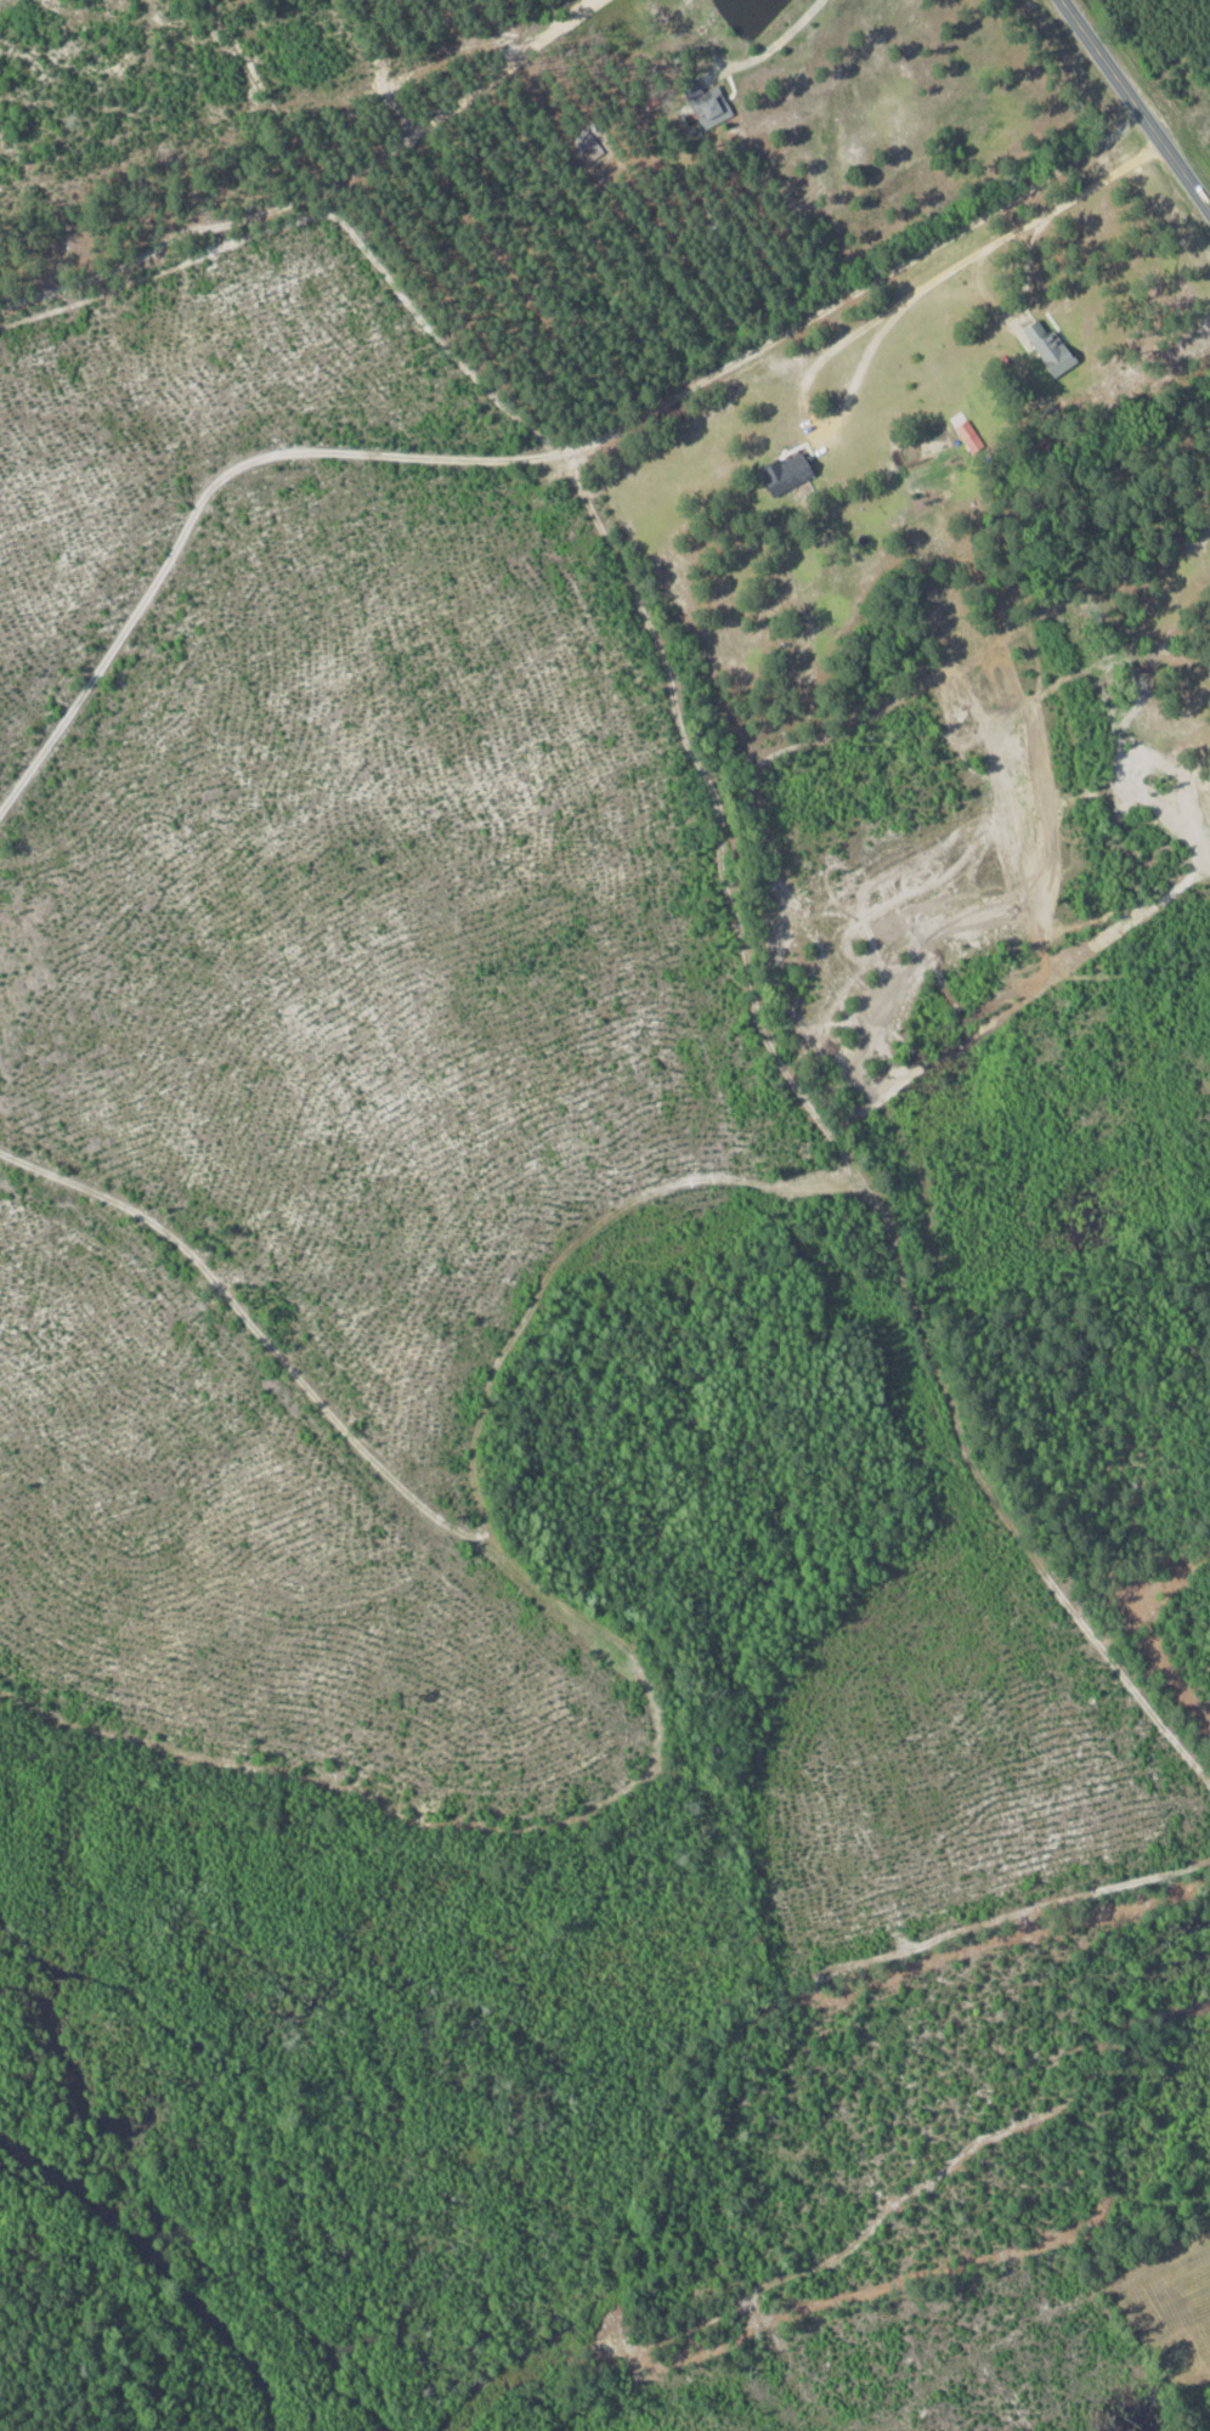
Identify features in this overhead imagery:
road: (1136, 103)
building: (709, 107)
building: (1048, 345)
building: (786, 471)

